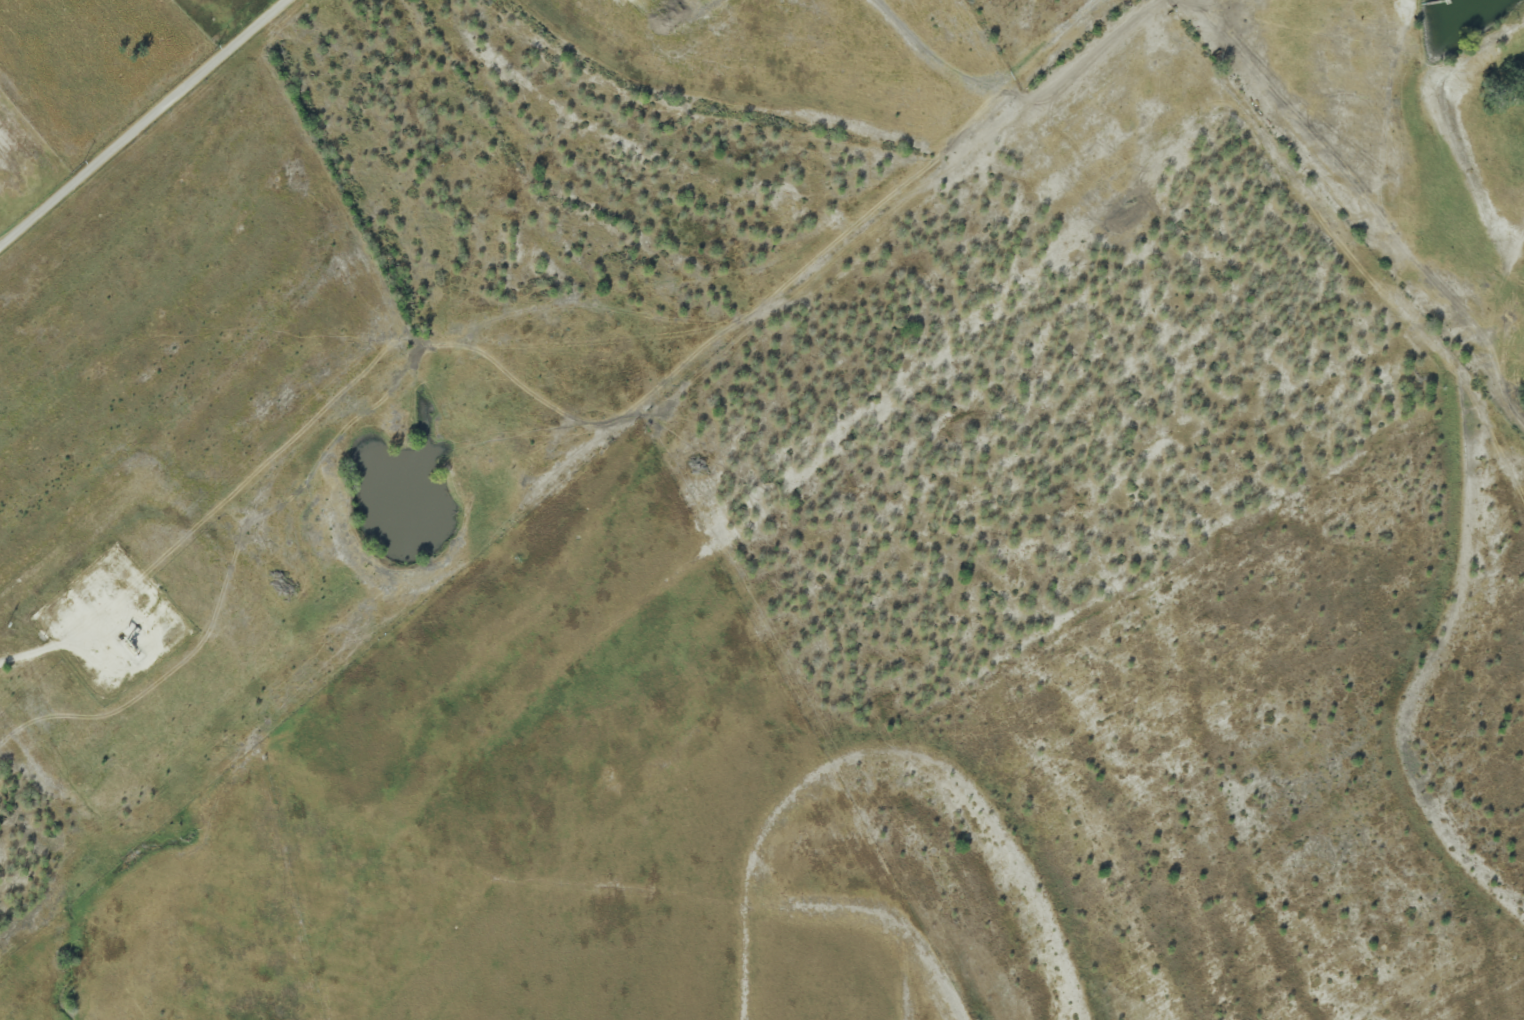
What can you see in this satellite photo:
road: (143, 122)
road: (38, 656)

